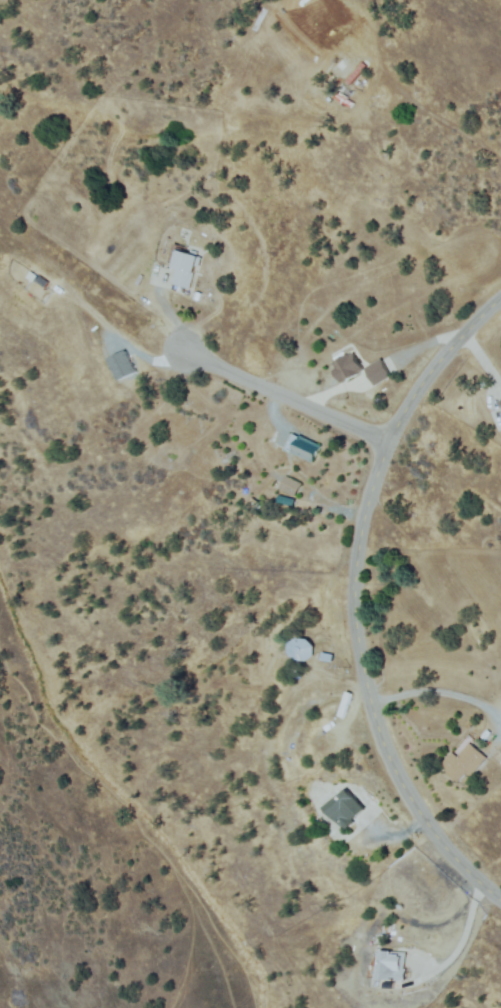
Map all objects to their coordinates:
building: (185, 267)
building: (196, 295)
building: (348, 367)
building: (379, 372)
road: (284, 400)
building: (500, 401)
building: (304, 448)
building: (291, 487)
building: (252, 503)
road: (360, 600)
building: (301, 650)
building: (326, 656)
building: (485, 734)
building: (262, 759)
building: (464, 763)
building: (345, 809)
building: (387, 964)

